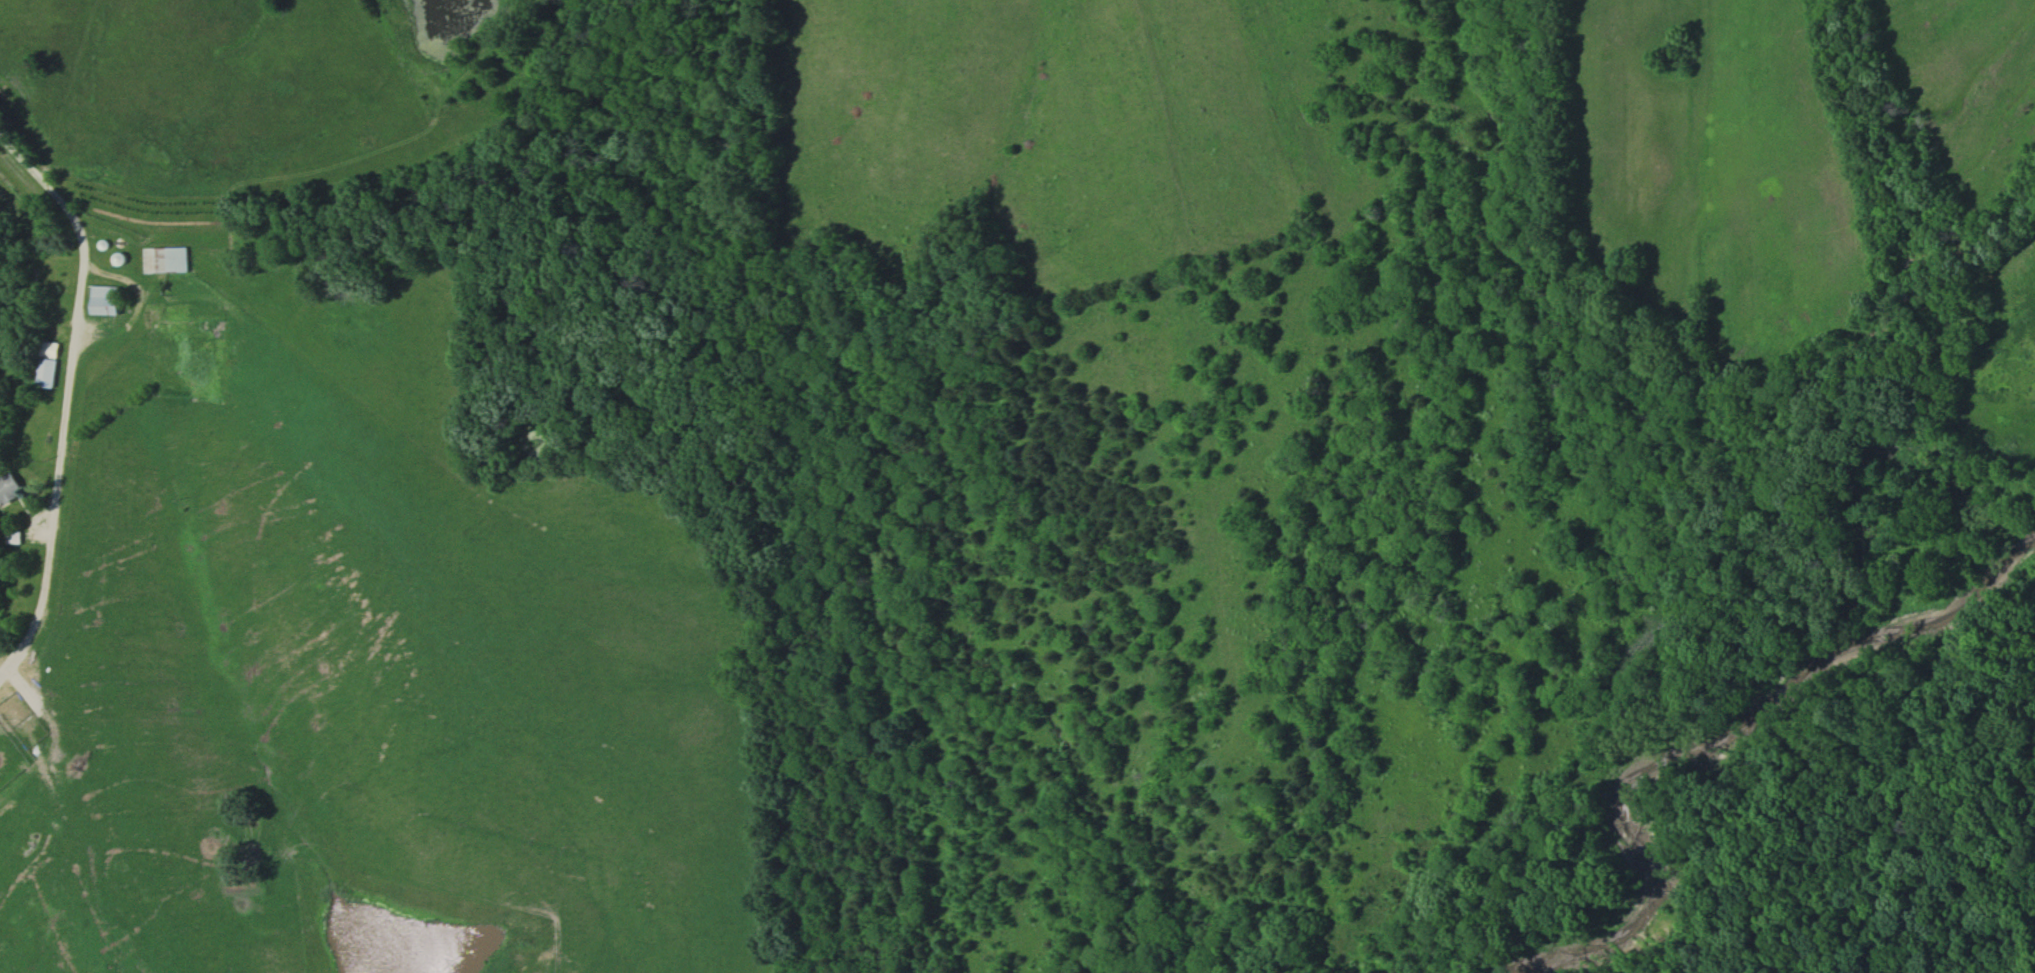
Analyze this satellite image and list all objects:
building: (161, 259)
building: (99, 299)
road: (77, 322)
building: (43, 372)
building: (8, 486)
building: (10, 537)

